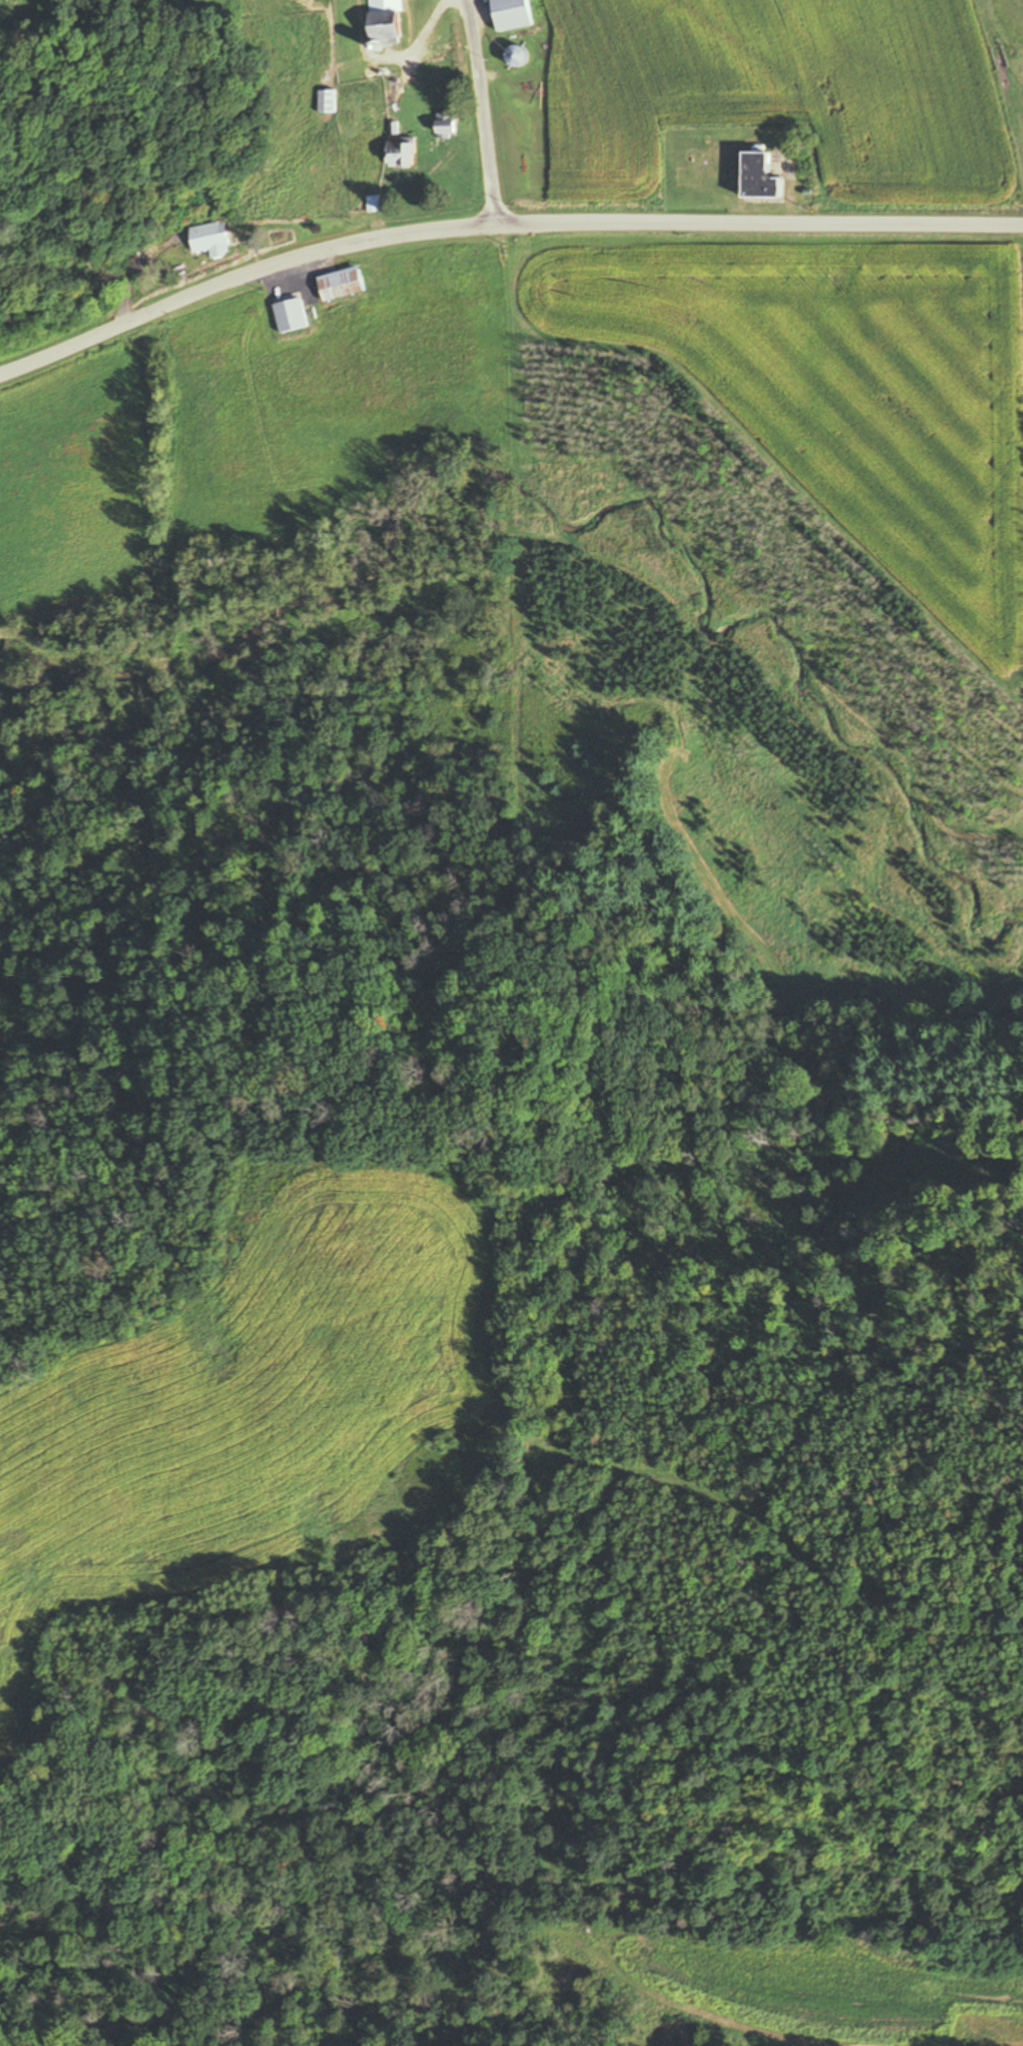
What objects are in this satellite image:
building: (512, 15)
building: (388, 21)
building: (514, 58)
building: (328, 102)
road: (482, 109)
building: (448, 126)
building: (404, 155)
building: (762, 178)
road: (499, 219)
building: (210, 240)
building: (342, 284)
building: (291, 316)

